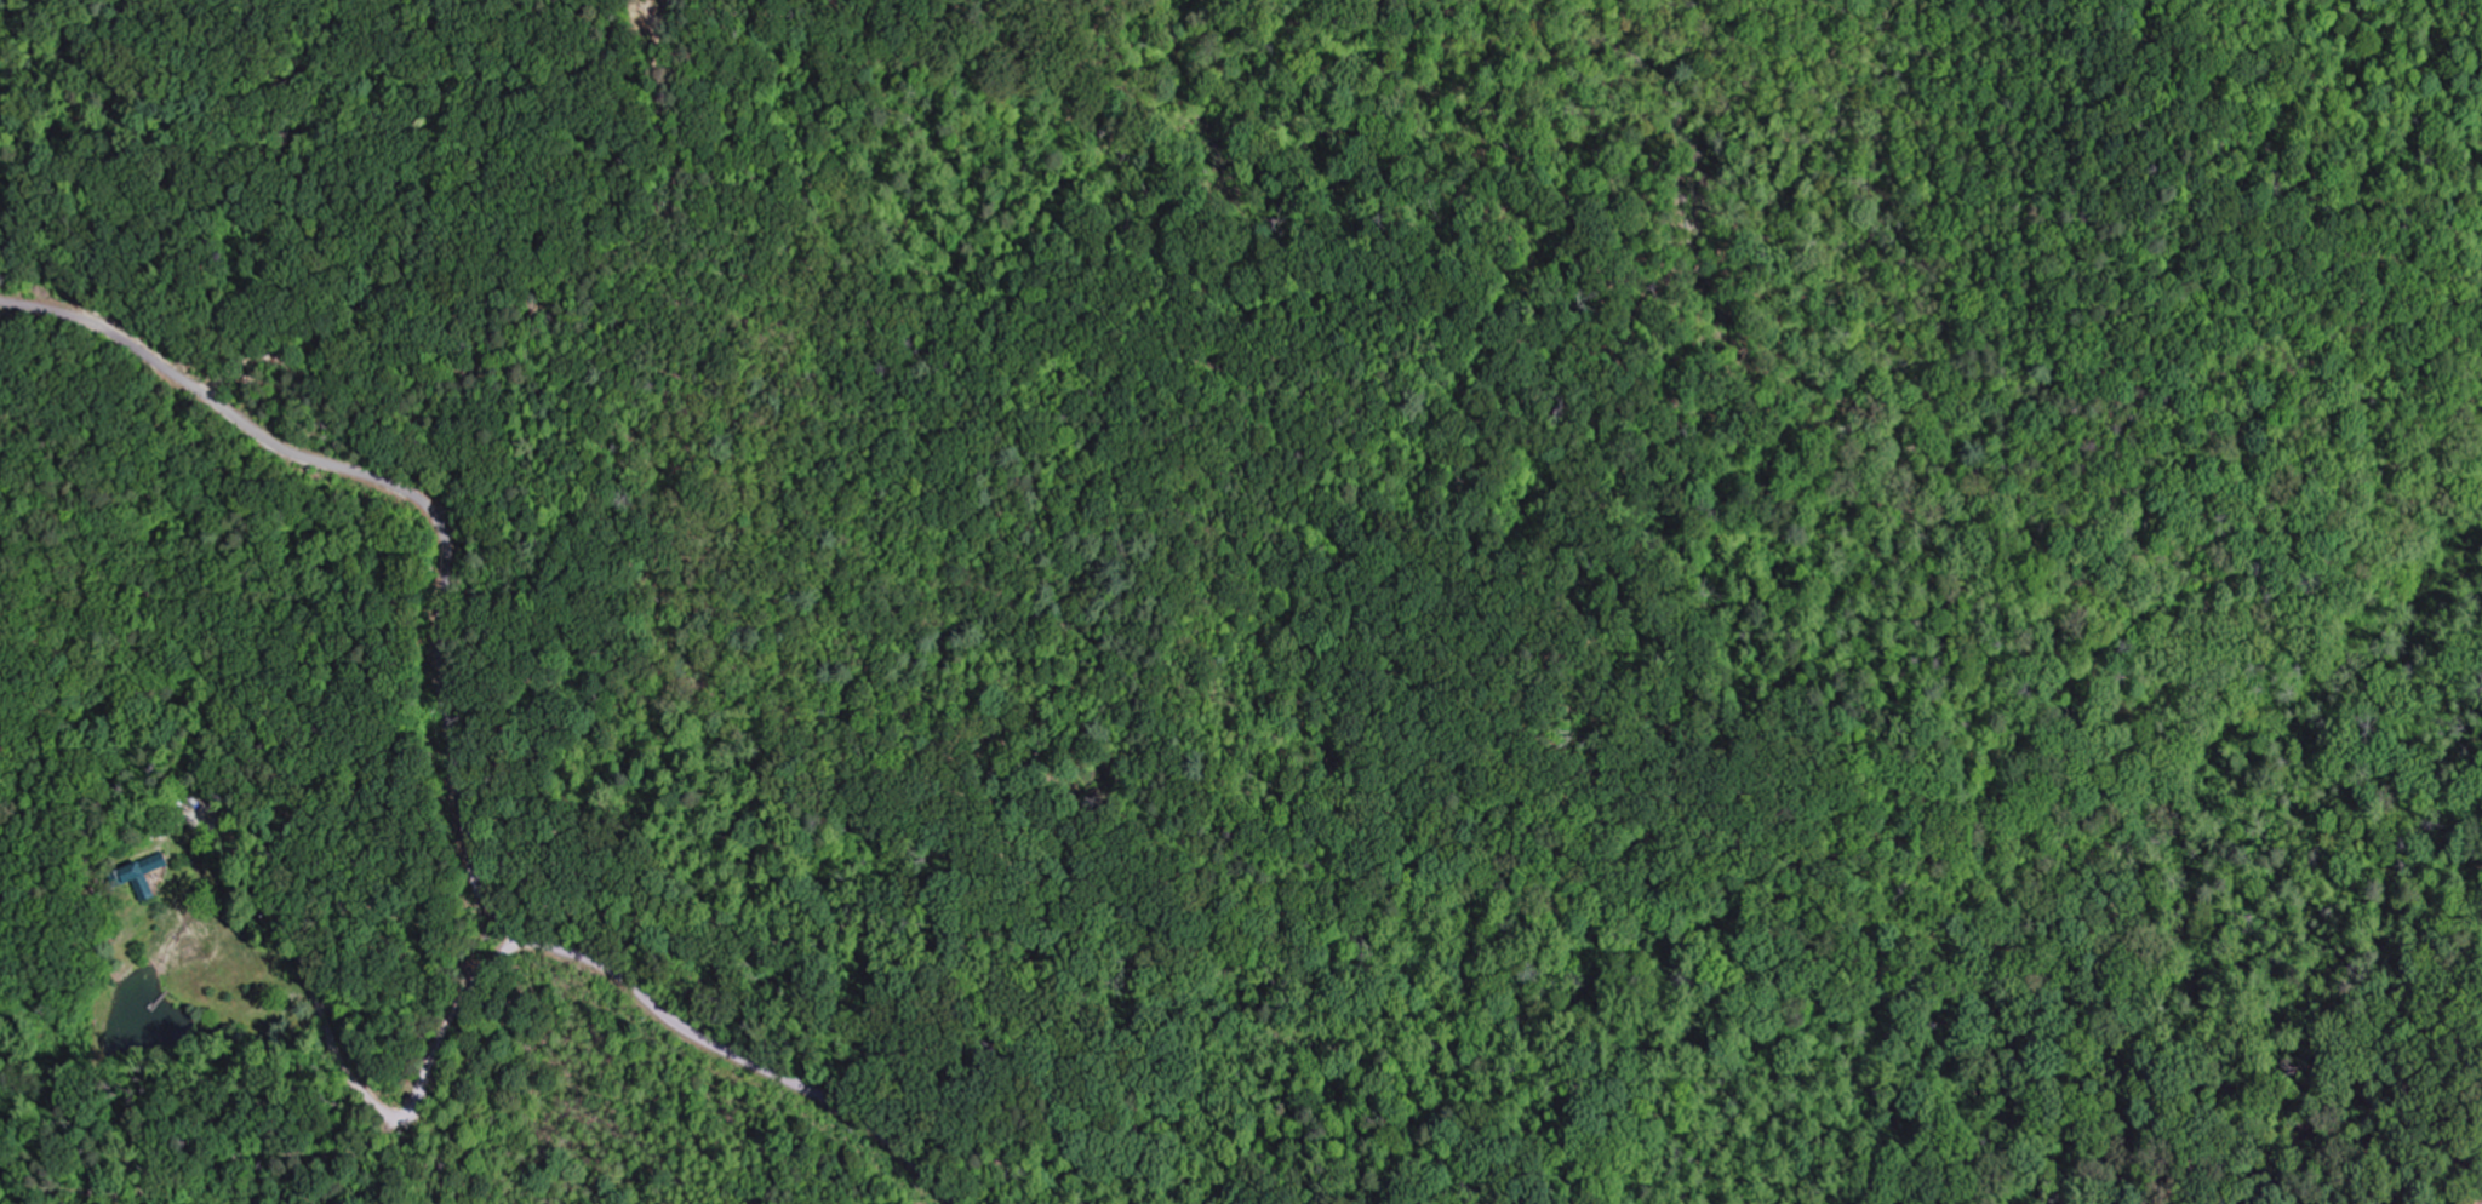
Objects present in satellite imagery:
road: (545, 304)
road: (108, 331)
road: (206, 382)
road: (471, 859)

